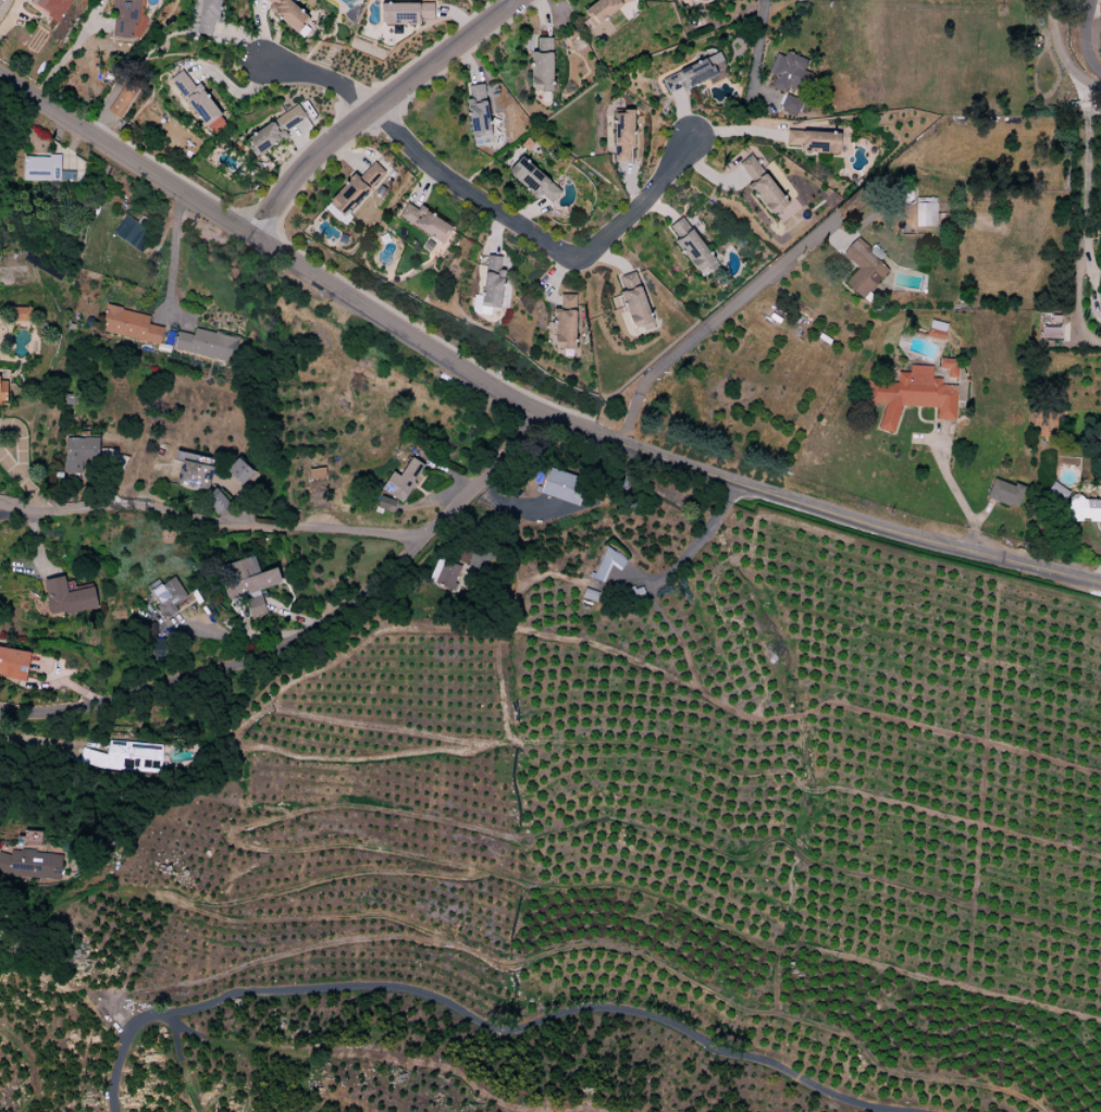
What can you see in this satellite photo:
building: (55, 8)
building: (603, 10)
building: (406, 11)
building: (288, 14)
building: (209, 16)
building: (125, 17)
road: (1086, 39)
road: (756, 53)
road: (1061, 53)
road: (62, 58)
building: (543, 66)
building: (788, 72)
building: (690, 76)
building: (197, 99)
building: (123, 101)
building: (789, 106)
road: (375, 111)
building: (479, 112)
building: (273, 132)
building: (623, 135)
building: (815, 141)
building: (47, 169)
building: (533, 181)
building: (763, 188)
building: (355, 190)
road: (1085, 196)
road: (485, 205)
building: (926, 214)
building: (426, 223)
building: (131, 233)
building: (692, 246)
road: (170, 255)
building: (864, 269)
building: (1100, 274)
building: (493, 283)
building: (635, 301)
building: (21, 314)
building: (131, 324)
road: (708, 324)
building: (565, 329)
building: (1050, 329)
building: (936, 335)
building: (207, 345)
building: (949, 367)
building: (3, 395)
building: (914, 396)
road: (520, 397)
road: (20, 443)
building: (83, 458)
road: (9, 466)
building: (239, 471)
building: (196, 472)
building: (404, 481)
building: (565, 487)
road: (953, 490)
road: (30, 492)
building: (1006, 494)
building: (218, 503)
building: (385, 504)
building: (1077, 505)
road: (4, 509)
road: (214, 518)
building: (608, 565)
building: (444, 573)
building: (248, 585)
building: (69, 597)
building: (171, 597)
road: (312, 631)
building: (153, 641)
building: (14, 664)
building: (135, 756)
building: (39, 855)
road: (486, 1024)

